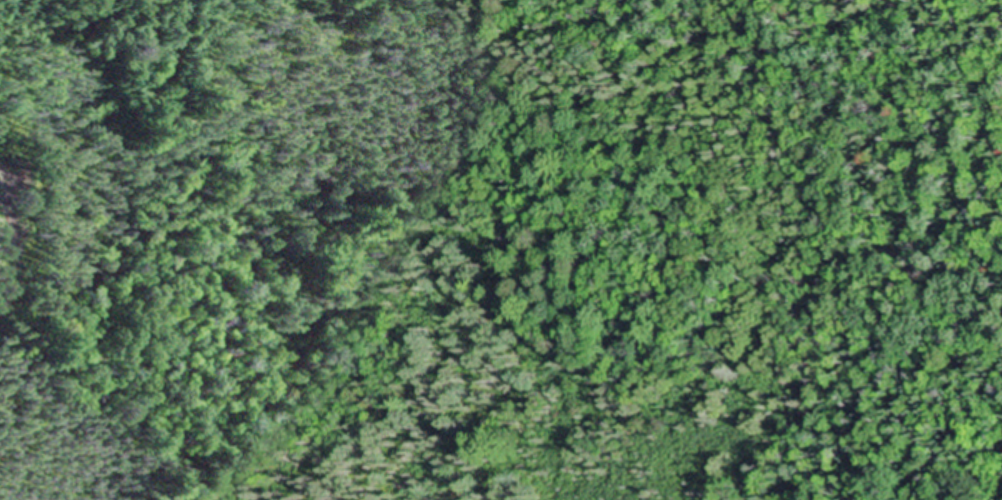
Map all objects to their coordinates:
road: (150, 1)
road: (156, 76)

